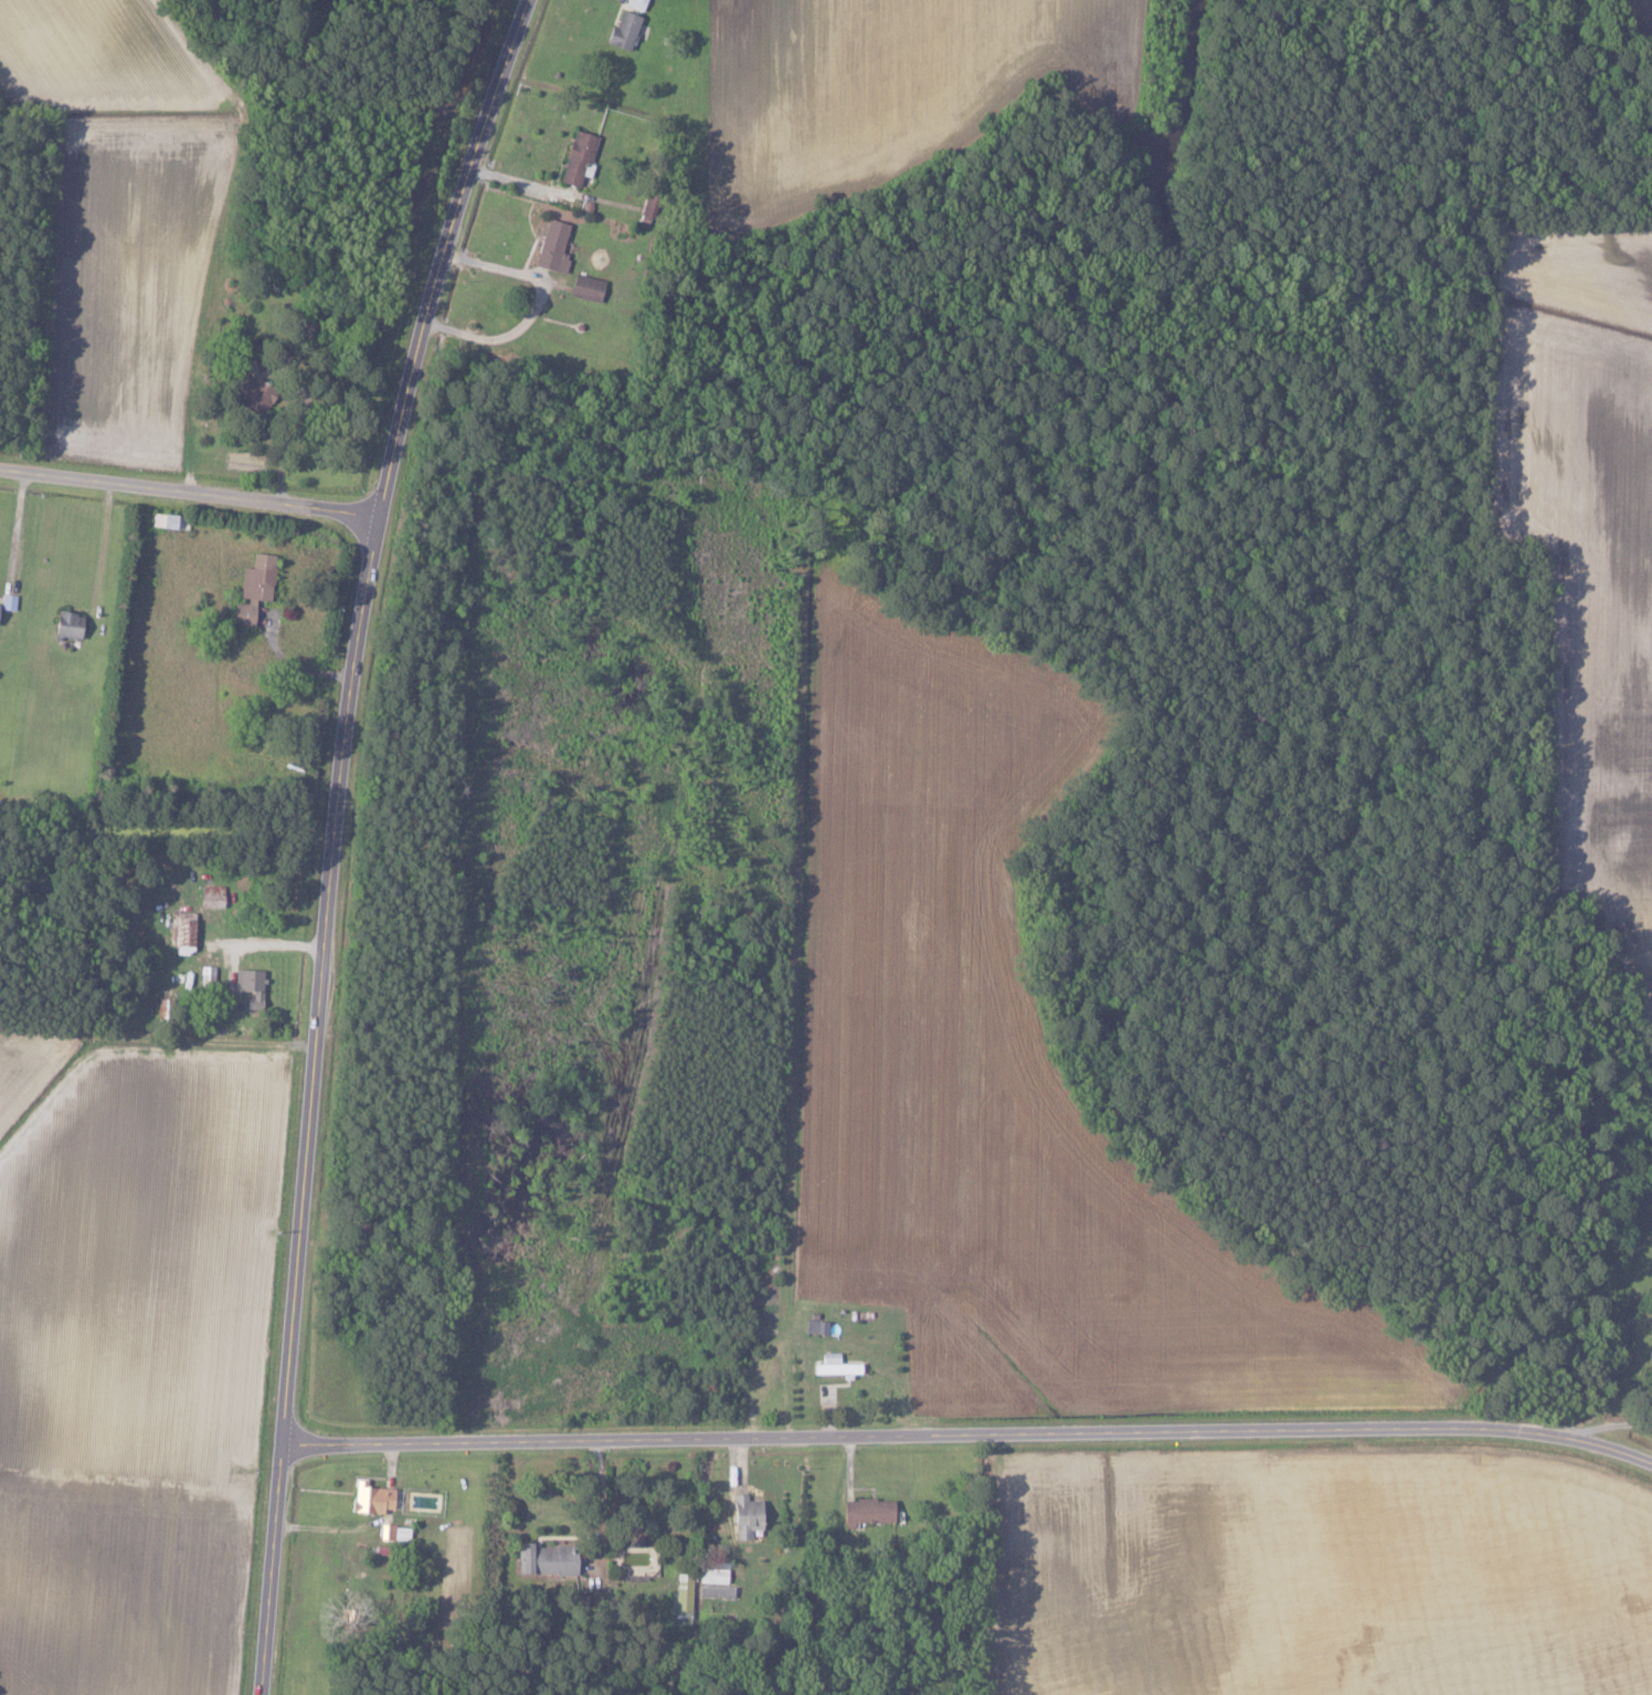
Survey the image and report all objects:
building: (621, 30)
building: (576, 158)
building: (550, 246)
building: (585, 286)
road: (530, 307)
road: (190, 496)
building: (159, 519)
road: (12, 527)
building: (252, 587)
building: (66, 624)
road: (341, 836)
building: (210, 896)
building: (181, 928)
building: (206, 977)
building: (231, 979)
building: (815, 1327)
building: (834, 1366)
road: (1614, 1430)
road: (972, 1433)
building: (368, 1498)
road: (601, 1506)
building: (866, 1512)
building: (743, 1516)
building: (393, 1532)
building: (544, 1559)
building: (712, 1572)

